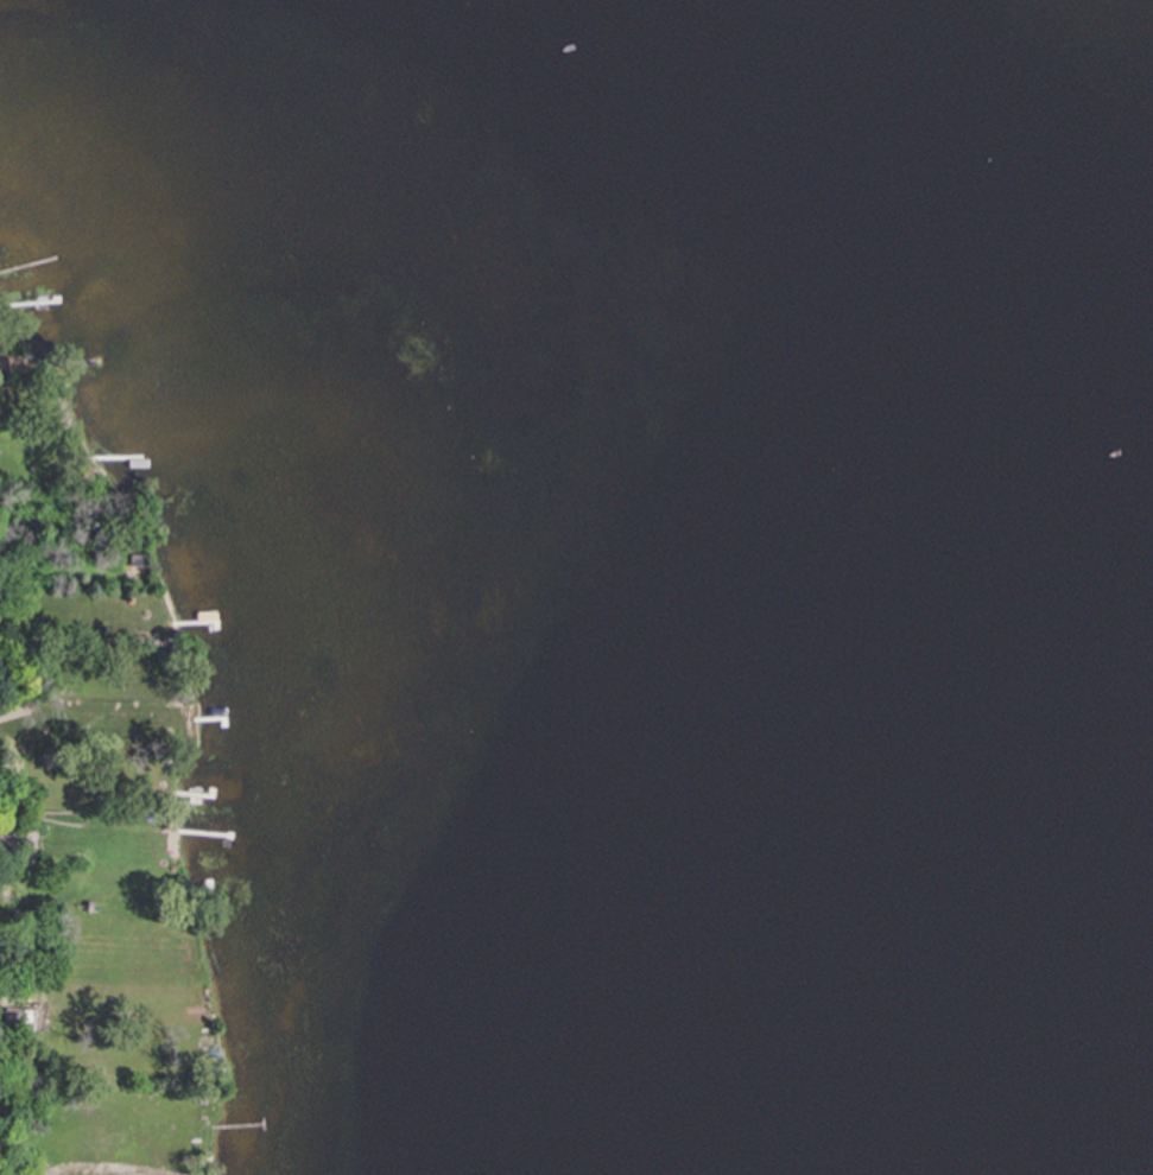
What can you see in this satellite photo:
building: (19, 1021)

